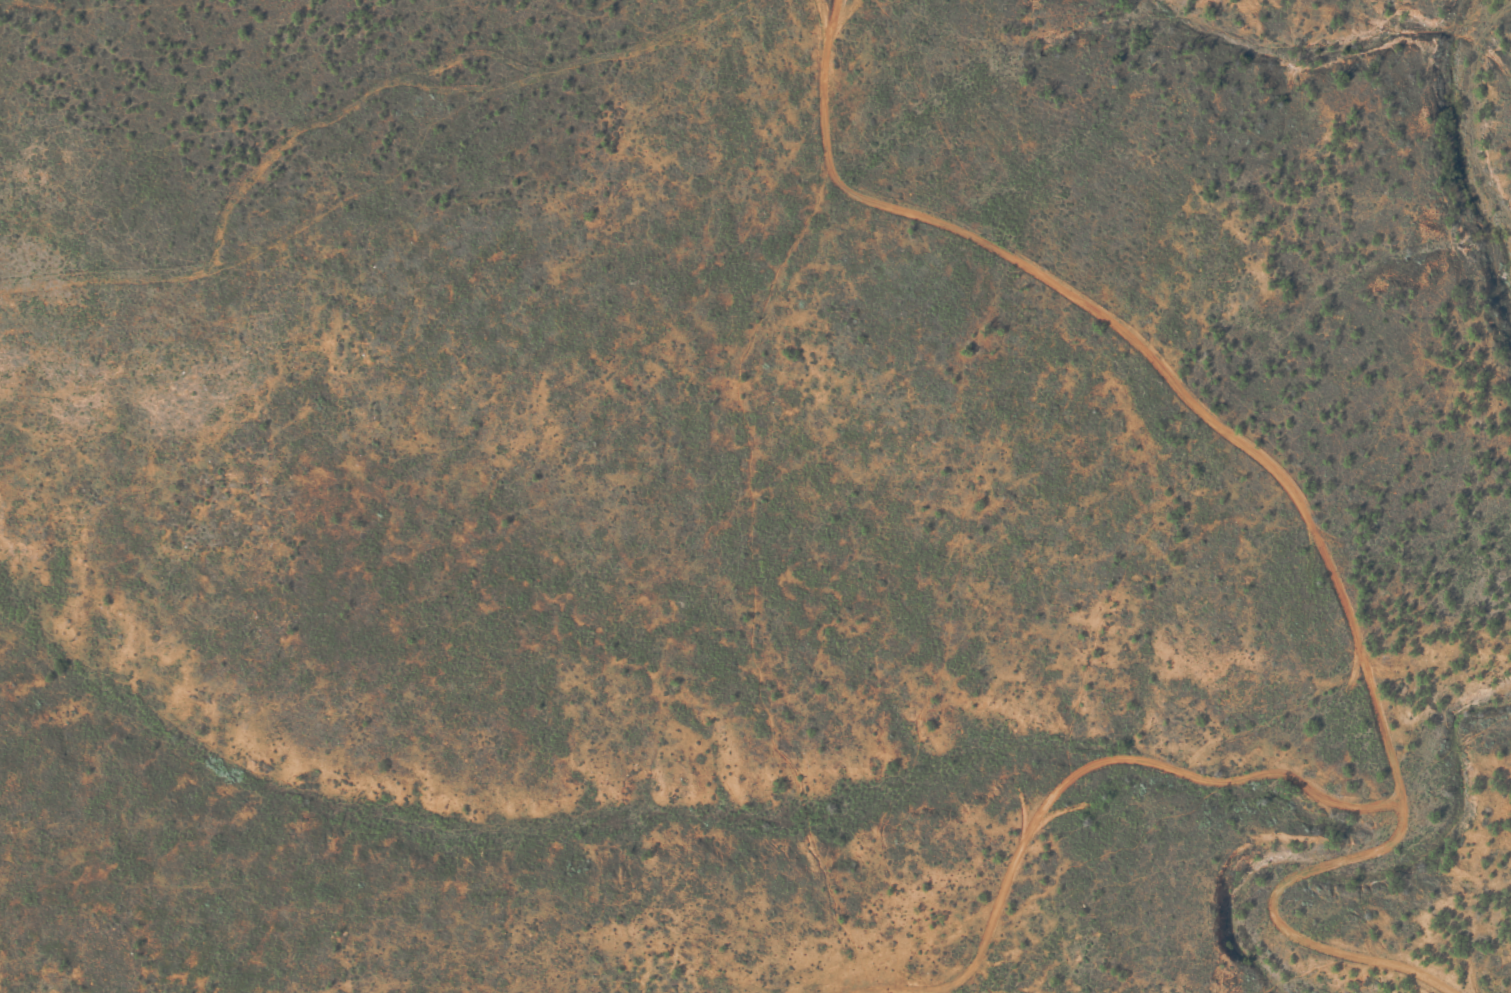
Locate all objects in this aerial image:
road: (1251, 451)

